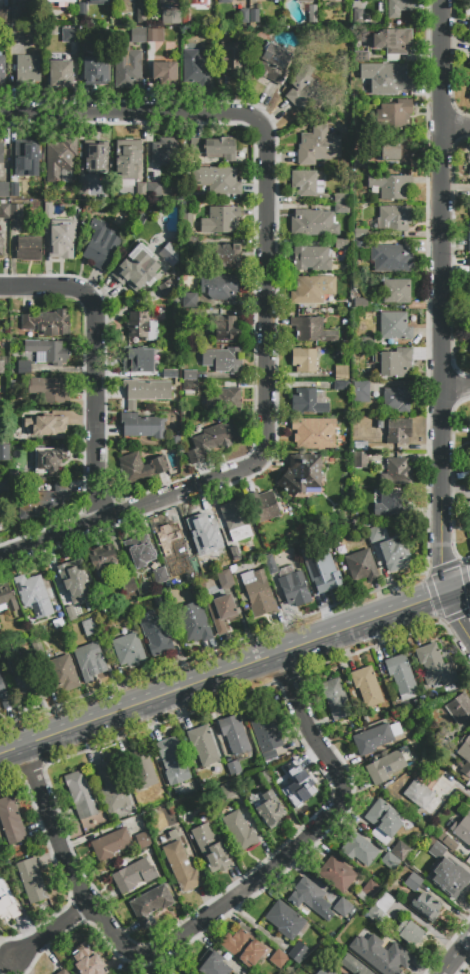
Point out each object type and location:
building: (20, 0)
building: (35, 0)
building: (97, 0)
building: (372, 0)
building: (275, 1)
building: (305, 1)
building: (330, 1)
building: (64, 2)
building: (197, 2)
building: (225, 2)
building: (398, 7)
building: (15, 13)
building: (357, 14)
building: (4, 15)
building: (141, 16)
building: (244, 16)
building: (254, 16)
building: (171, 17)
building: (313, 17)
building: (469, 28)
building: (17, 34)
building: (70, 35)
building: (138, 35)
building: (155, 35)
building: (393, 41)
building: (469, 50)
building: (230, 56)
building: (361, 56)
building: (274, 63)
building: (469, 67)
building: (27, 68)
building: (2, 69)
building: (97, 70)
building: (196, 70)
building: (128, 71)
building: (165, 73)
building: (60, 74)
building: (387, 79)
building: (304, 92)
building: (469, 96)
street lamp: (268, 113)
building: (392, 115)
road: (457, 123)
building: (317, 146)
building: (213, 148)
building: (28, 151)
building: (165, 151)
building: (395, 152)
building: (2, 153)
building: (95, 156)
building: (128, 158)
building: (61, 160)
building: (362, 166)
building: (469, 172)
building: (217, 181)
building: (306, 183)
building: (389, 185)
building: (83, 188)
building: (4, 190)
building: (14, 190)
building: (141, 190)
building: (154, 190)
building: (341, 197)
building: (340, 208)
building: (4, 211)
building: (17, 212)
building: (393, 218)
building: (187, 220)
building: (220, 220)
building: (313, 223)
building: (359, 234)
building: (469, 238)
building: (190, 241)
building: (56, 244)
building: (341, 244)
building: (359, 244)
building: (1, 245)
building: (101, 245)
building: (29, 248)
building: (169, 254)
building: (227, 256)
building: (311, 258)
building: (391, 258)
building: (137, 268)
building: (469, 271)
street lamp: (84, 277)
building: (167, 288)
building: (222, 288)
building: (307, 291)
building: (396, 292)
road: (266, 299)
road: (274, 299)
building: (191, 303)
building: (361, 304)
building: (469, 305)
building: (191, 316)
road: (442, 322)
building: (47, 323)
building: (395, 326)
building: (141, 327)
building: (227, 329)
building: (312, 330)
building: (366, 341)
building: (47, 352)
building: (139, 360)
building: (223, 360)
building: (303, 360)
building: (394, 362)
road: (90, 366)
building: (1, 367)
building: (24, 367)
building: (341, 373)
building: (170, 374)
building: (190, 375)
building: (189, 386)
building: (340, 386)
building: (50, 390)
road: (456, 390)
building: (146, 392)
building: (361, 392)
road: (253, 396)
building: (396, 399)
building: (224, 400)
building: (309, 401)
building: (0, 402)
road: (77, 415)
building: (45, 426)
building: (143, 426)
building: (378, 429)
building: (398, 431)
building: (314, 433)
building: (213, 440)
building: (469, 440)
building: (174, 442)
building: (363, 446)
building: (4, 452)
building: (50, 459)
building: (361, 459)
building: (469, 461)
building: (141, 467)
building: (397, 472)
building: (301, 474)
building: (4, 487)
building: (46, 499)
building: (392, 505)
building: (264, 506)
building: (467, 511)
street lamp: (84, 516)
building: (235, 520)
road: (429, 520)
building: (204, 525)
building: (374, 535)
building: (168, 538)
building: (140, 551)
building: (302, 551)
building: (394, 554)
building: (102, 560)
building: (203, 560)
building: (190, 562)
building: (270, 564)
building: (362, 566)
street lamp: (420, 572)
building: (159, 574)
building: (326, 576)
building: (224, 579)
building: (73, 580)
building: (129, 586)
building: (295, 589)
traffic signals: (449, 592)
building: (33, 595)
building: (257, 595)
building: (7, 599)
building: (160, 602)
building: (221, 612)
building: (194, 622)
building: (0, 627)
building: (91, 627)
building: (156, 634)
building: (38, 649)
building: (129, 650)
building: (89, 661)
building: (431, 664)
building: (334, 668)
building: (7, 669)
road: (234, 669)
building: (62, 673)
building: (0, 674)
building: (401, 674)
building: (367, 686)
building: (30, 688)
building: (4, 696)
building: (336, 699)
building: (459, 708)
street lamp: (17, 722)
building: (266, 732)
building: (234, 734)
building: (375, 738)
building: (441, 738)
building: (203, 745)
building: (464, 755)
building: (171, 759)
building: (388, 765)
building: (141, 767)
building: (234, 767)
building: (266, 777)
road: (453, 783)
building: (292, 784)
building: (112, 786)
building: (229, 789)
building: (81, 795)
building: (422, 795)
building: (270, 810)
building: (11, 821)
building: (384, 822)
building: (462, 829)
building: (240, 831)
building: (143, 840)
building: (447, 842)
building: (110, 845)
street lamp: (40, 847)
building: (210, 849)
building: (359, 850)
building: (401, 851)
building: (391, 862)
building: (182, 867)
building: (446, 871)
building: (134, 875)
building: (337, 875)
building: (32, 881)
building: (413, 882)
building: (368, 891)
building: (311, 899)
building: (8, 902)
building: (150, 904)
building: (342, 907)
building: (425, 907)
building: (380, 909)
road: (214, 912)
building: (285, 920)
street lamp: (35, 928)
road: (48, 932)
building: (410, 932)
building: (243, 947)
building: (298, 952)
building: (383, 956)
road: (456, 956)
building: (279, 959)
building: (87, 961)
building: (212, 964)
building: (354, 966)
building: (325, 971)
building: (62, 972)

